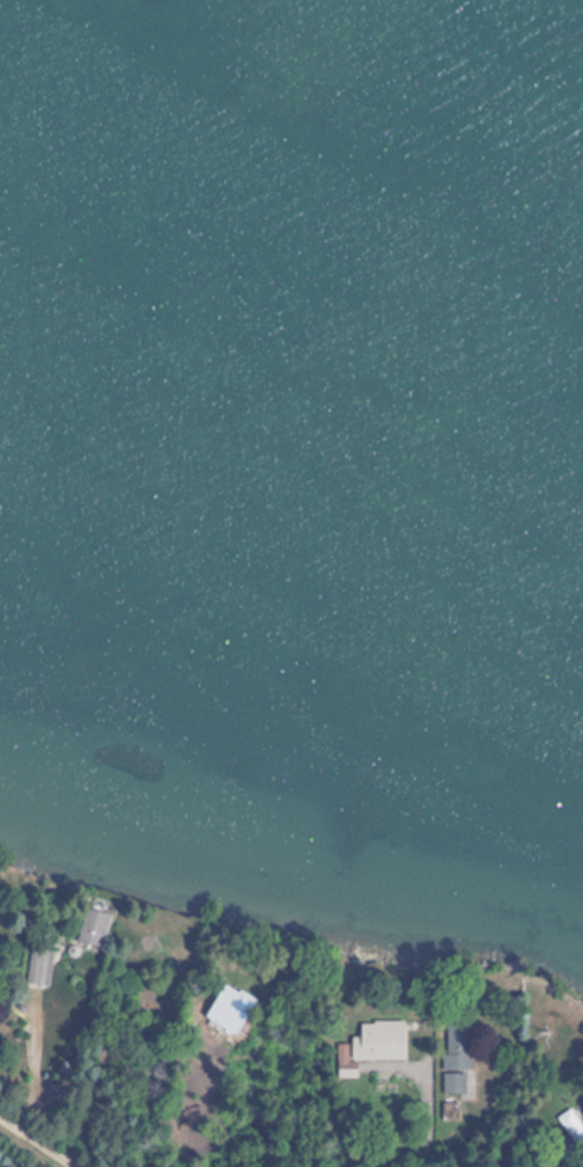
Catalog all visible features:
building: (83, 926)
building: (34, 967)
building: (230, 1008)
building: (365, 1046)
building: (450, 1057)
building: (569, 1122)
road: (38, 1143)

